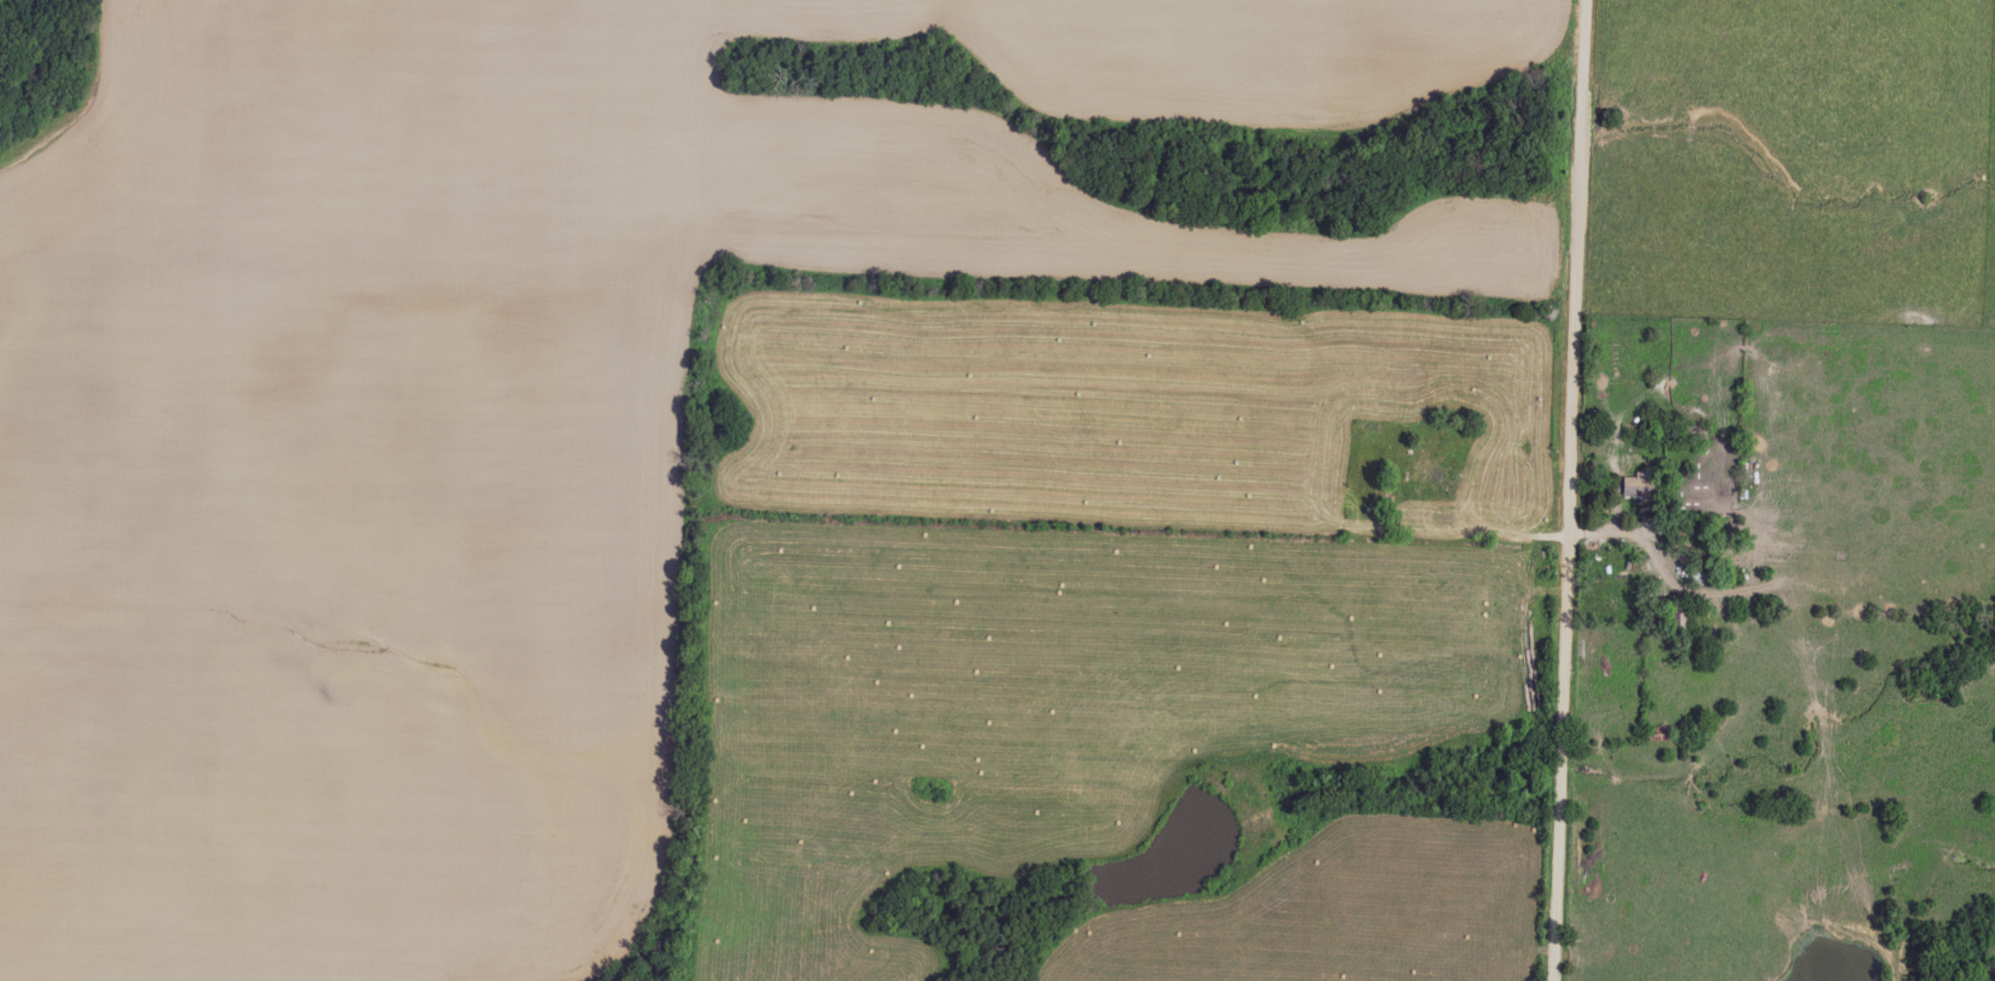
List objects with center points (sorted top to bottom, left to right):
building: (1638, 482)
road: (1571, 490)

